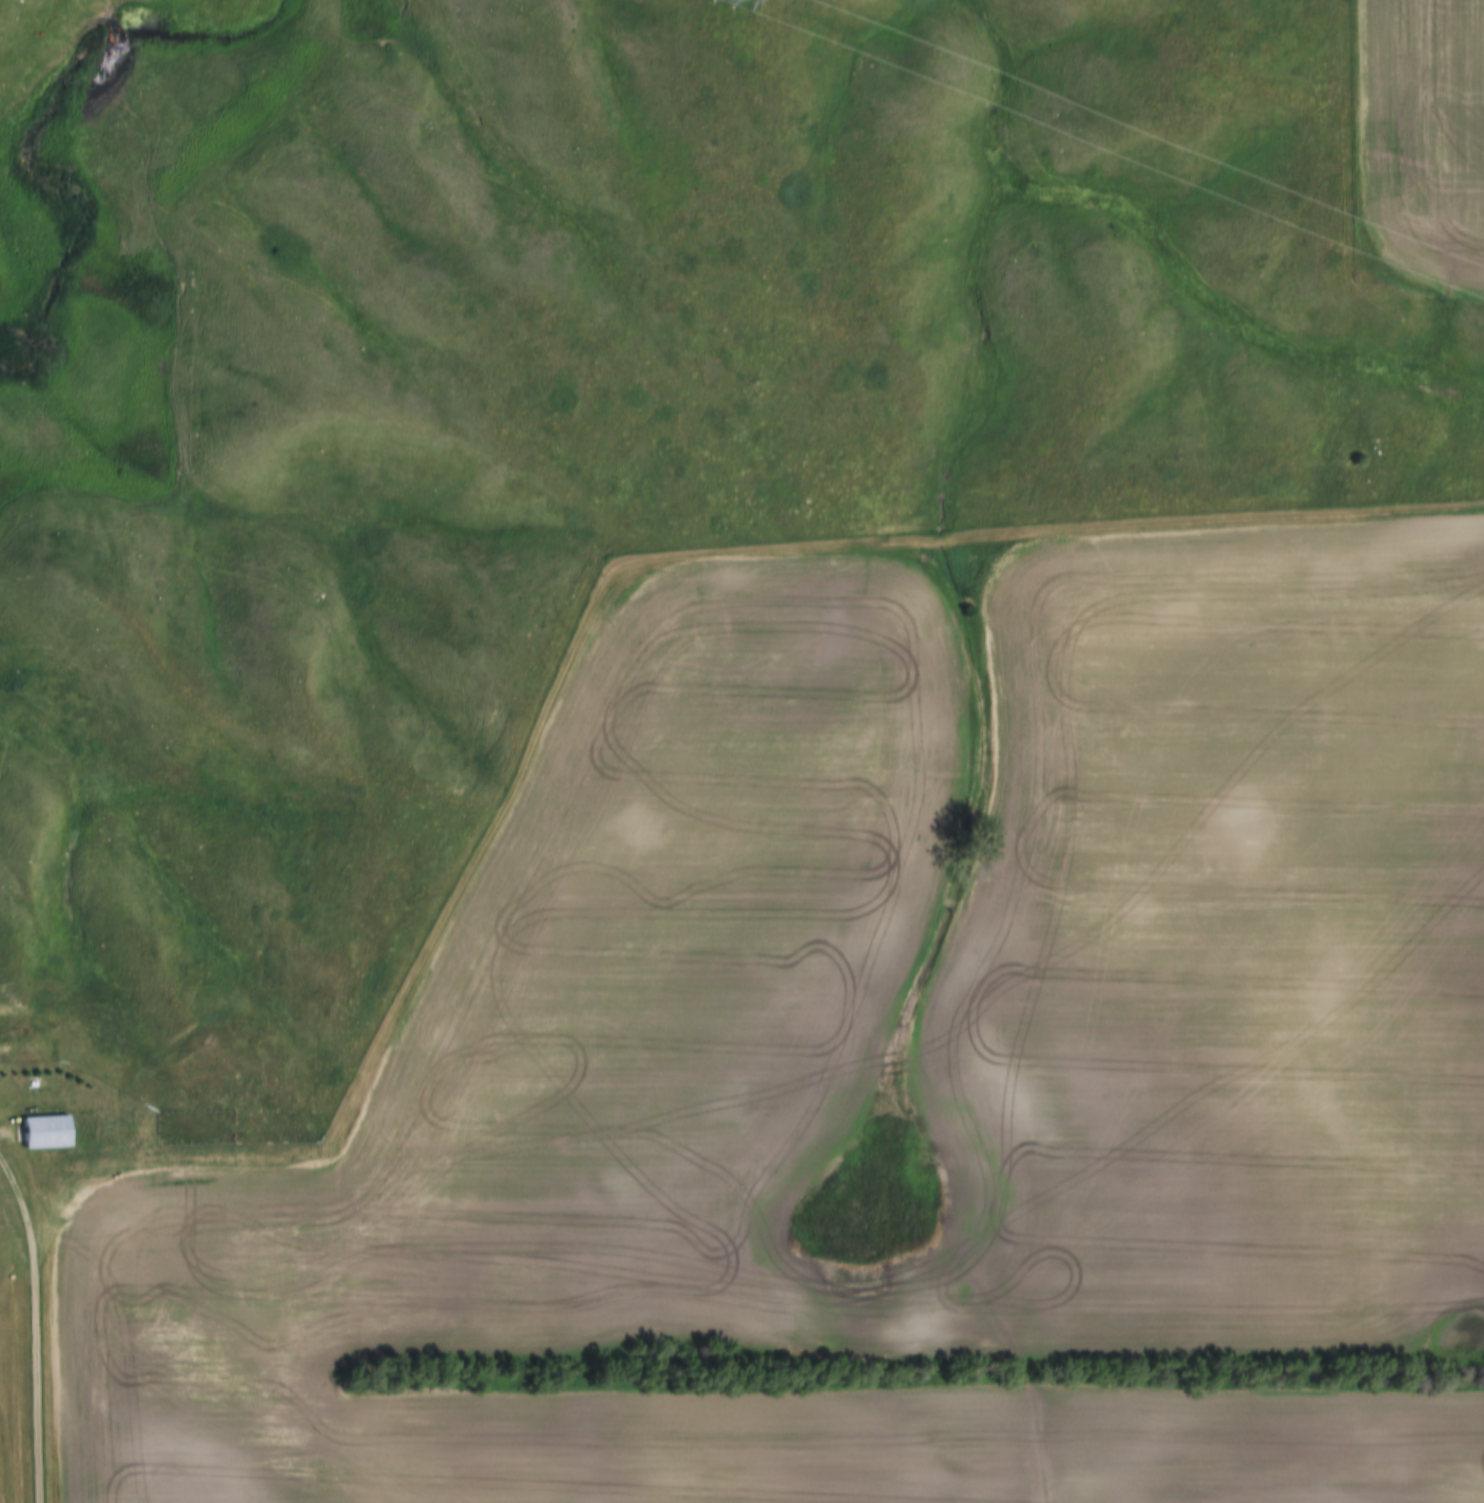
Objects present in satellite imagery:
building: (43, 1131)
road: (35, 1310)

